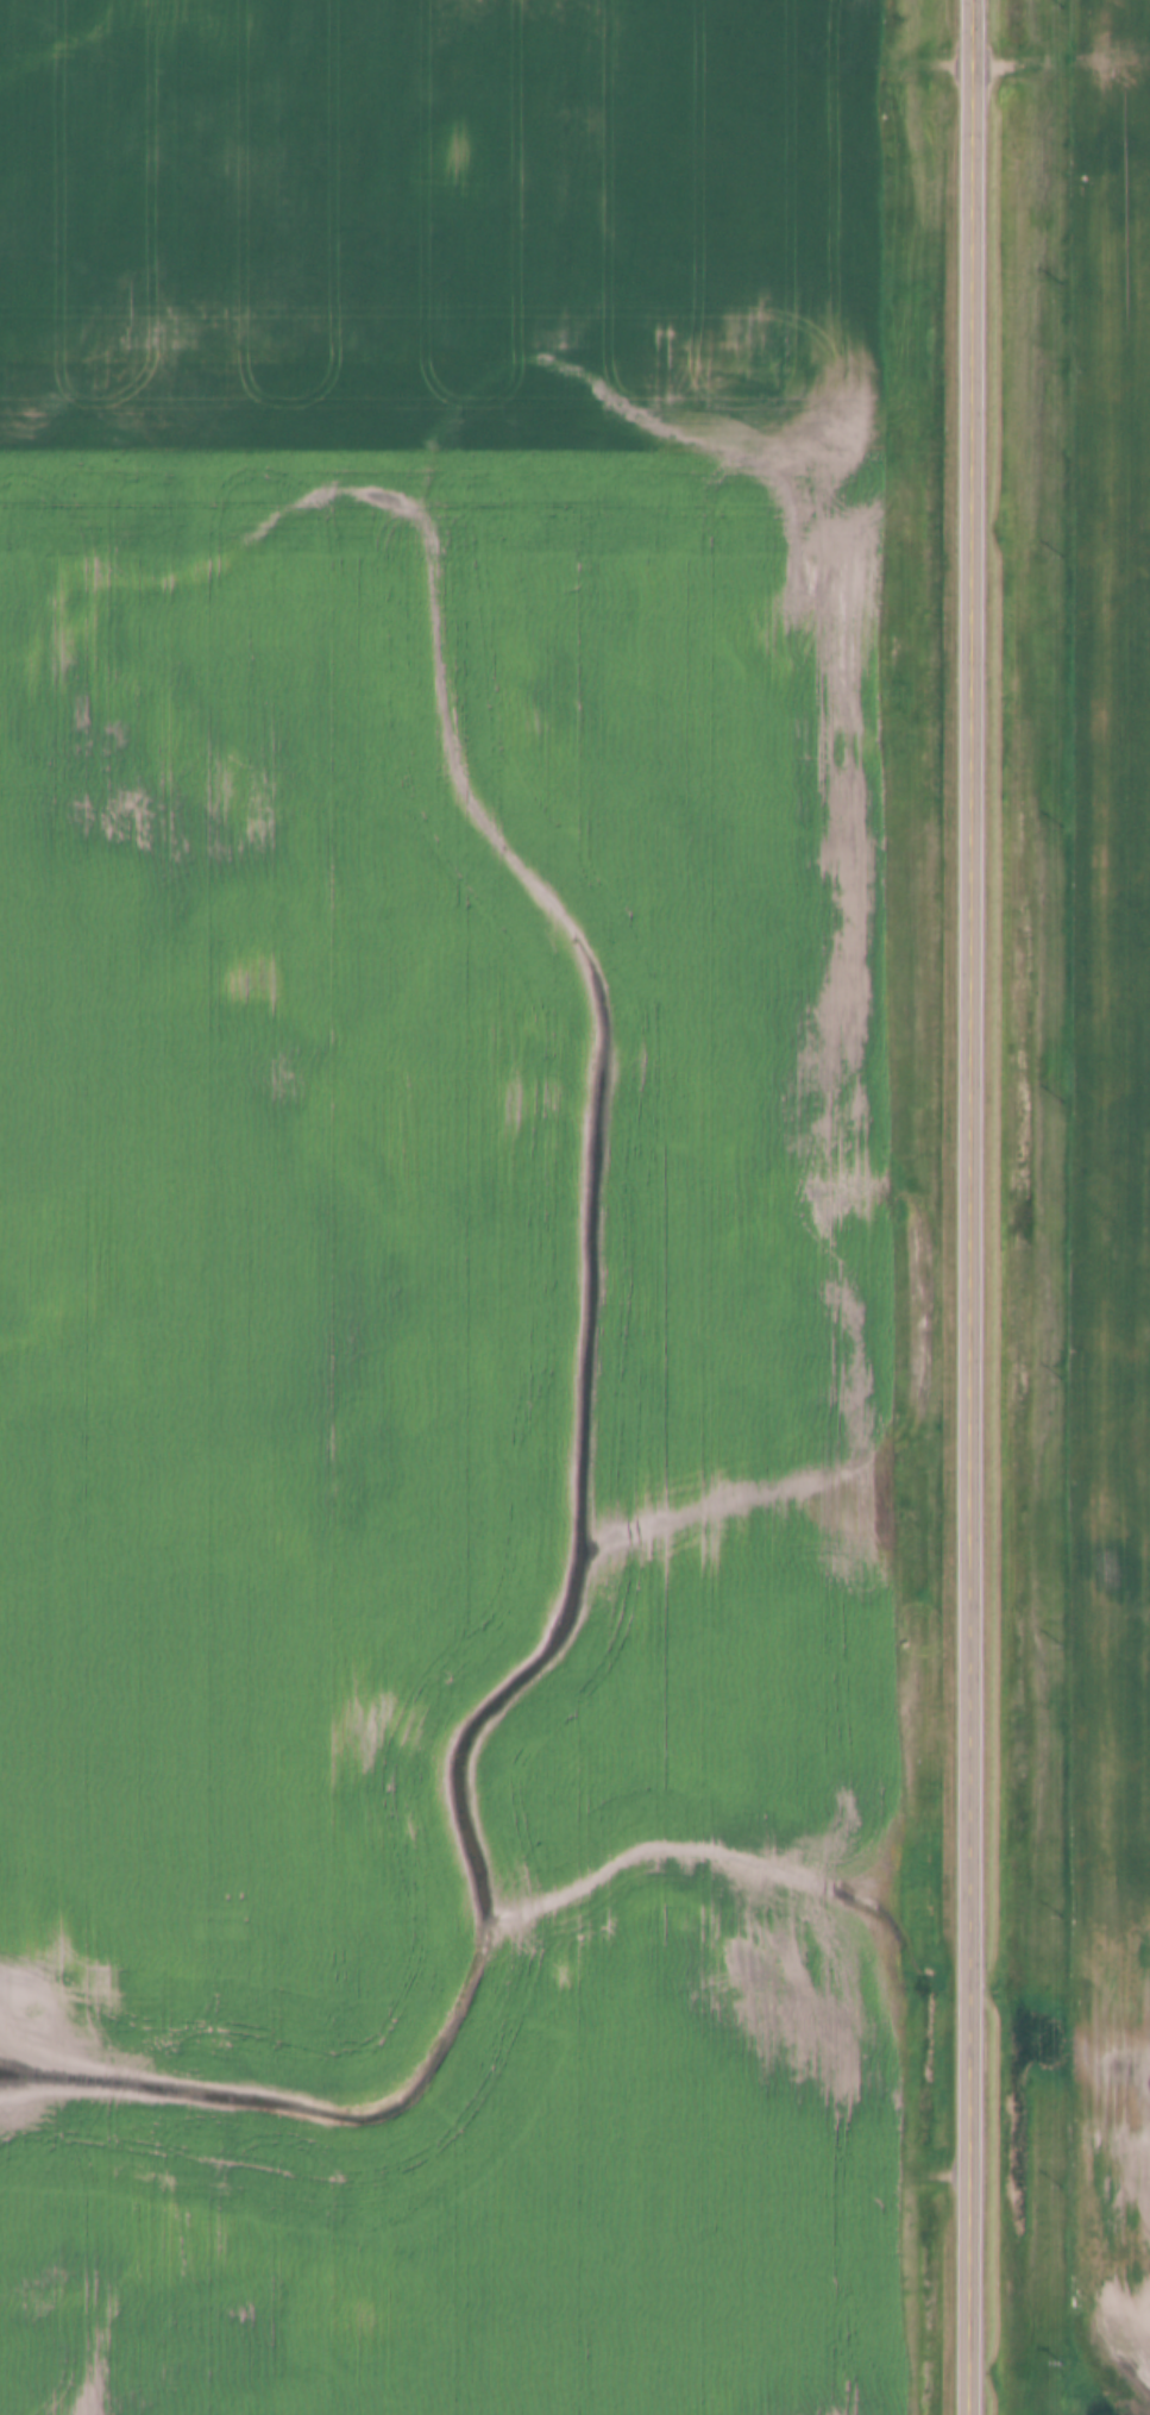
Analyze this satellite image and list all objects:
road: (974, 1207)

